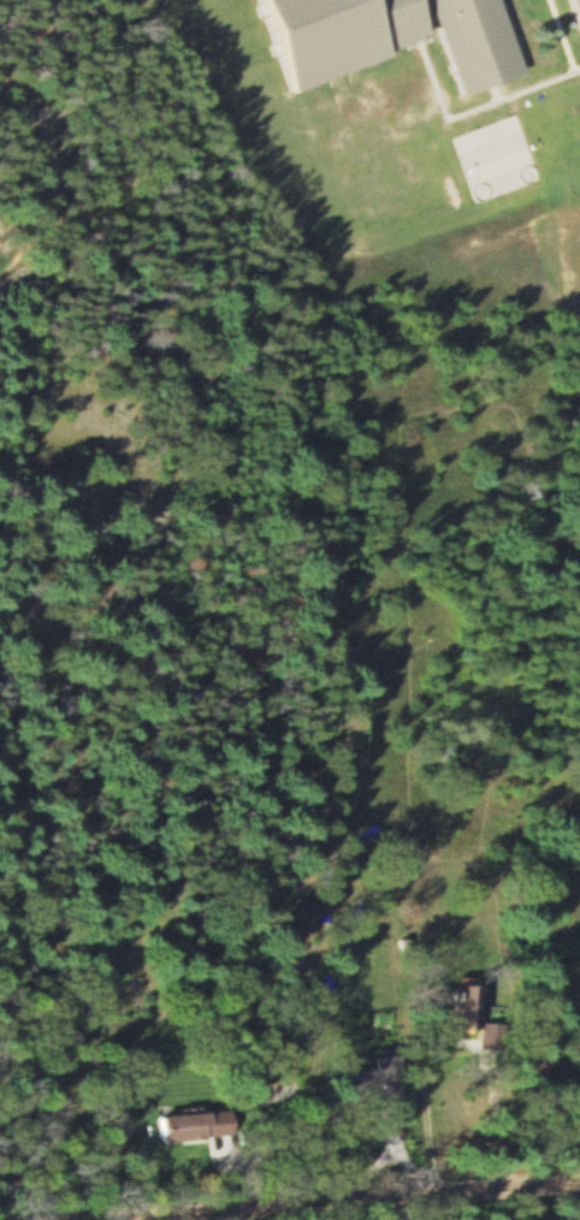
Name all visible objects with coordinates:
building: (573, 12)
building: (371, 36)
building: (499, 159)
building: (460, 1006)
building: (365, 1079)
building: (167, 1126)
road: (290, 1196)

